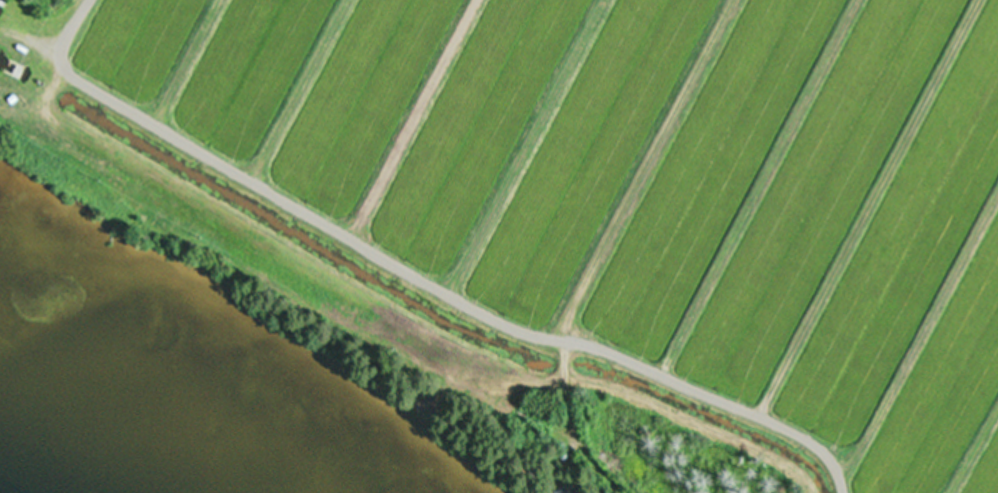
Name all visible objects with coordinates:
road: (62, 43)
crop: (597, 193)
road: (472, 311)
road: (378, 314)
road: (657, 372)
building: (568, 491)

